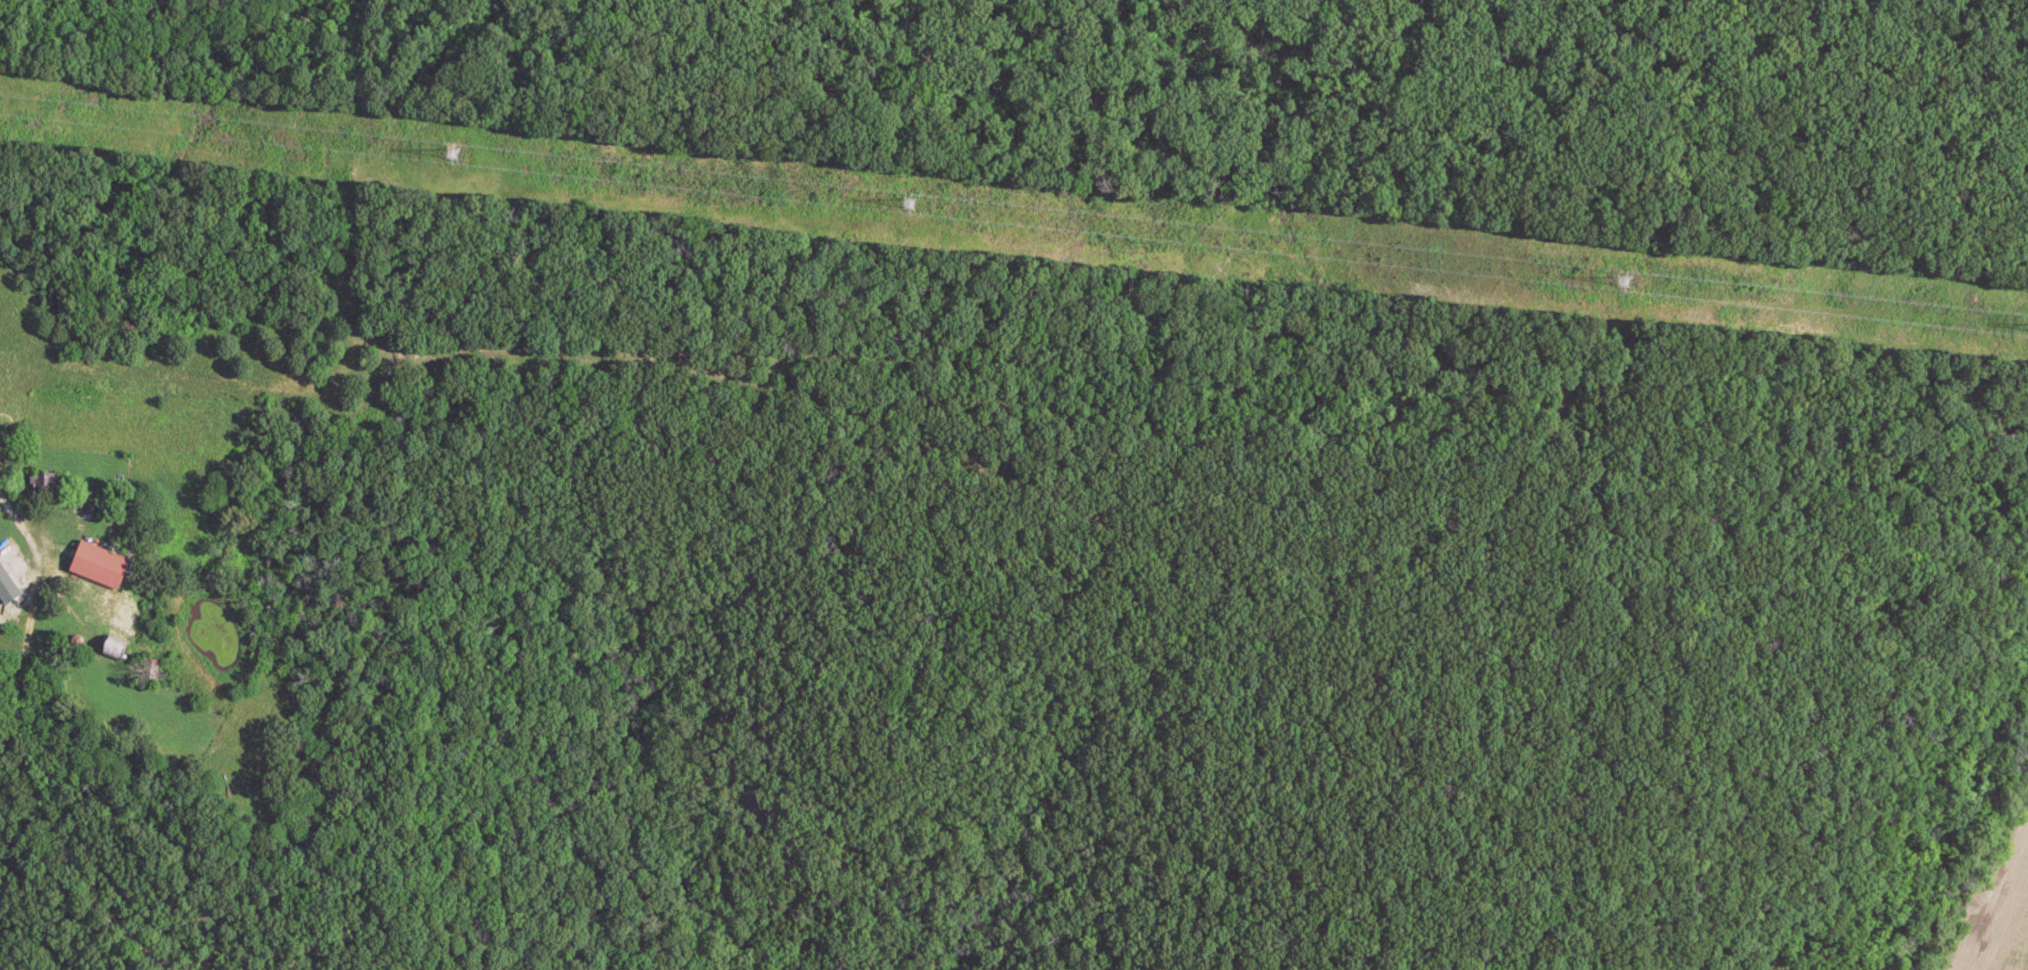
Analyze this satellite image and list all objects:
power tower: (454, 156)
power tower: (1628, 287)
building: (43, 482)
building: (100, 565)
building: (116, 649)
building: (151, 670)
road: (25, 747)

